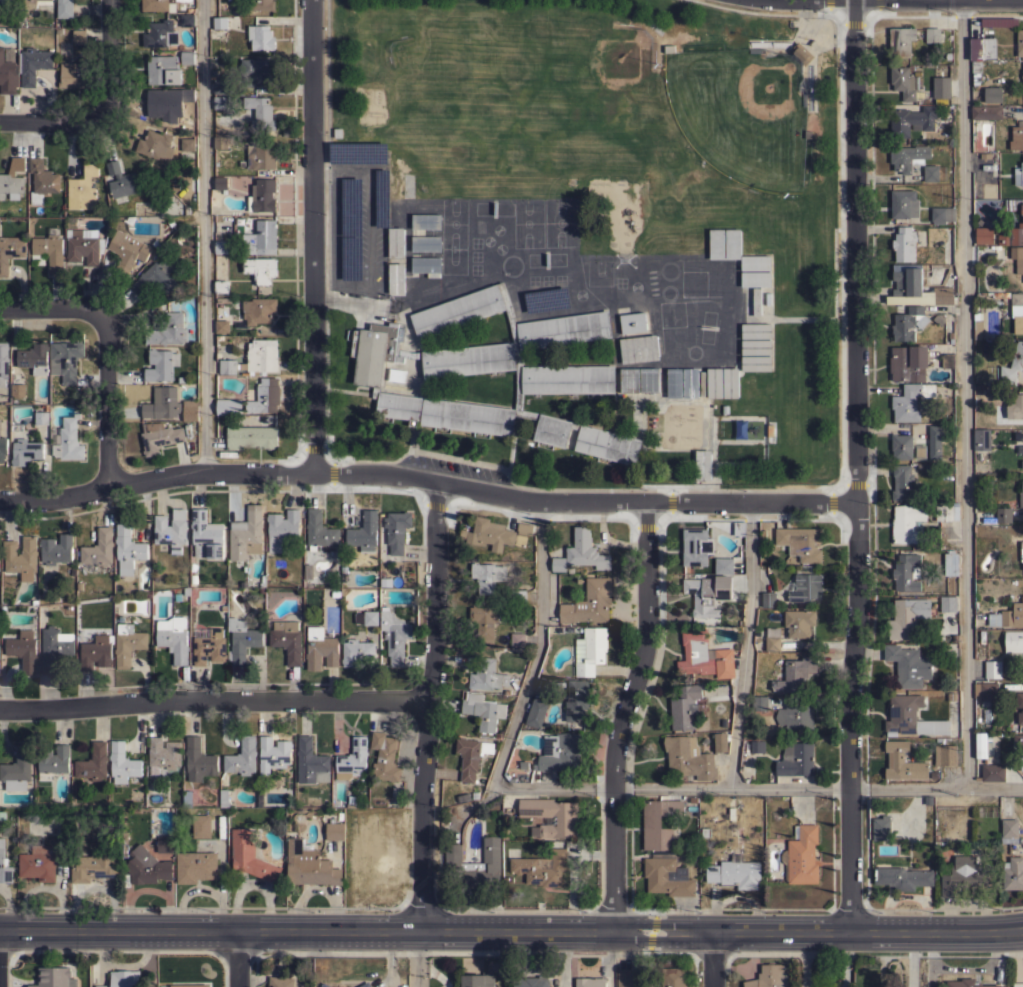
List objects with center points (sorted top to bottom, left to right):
building: (5, 3)
building: (33, 3)
road: (905, 3)
building: (159, 5)
building: (263, 5)
building: (64, 8)
building: (187, 20)
building: (220, 22)
building: (999, 22)
building: (160, 34)
building: (933, 35)
building: (79, 36)
building: (261, 37)
building: (901, 41)
building: (1020, 42)
building: (980, 52)
building: (801, 53)
building: (187, 57)
road: (106, 60)
building: (33, 64)
building: (163, 69)
building: (1022, 70)
building: (256, 71)
building: (8, 74)
building: (73, 74)
building: (1022, 76)
building: (1022, 81)
building: (904, 82)
park: (585, 86)
building: (941, 86)
building: (220, 87)
building: (187, 94)
building: (992, 94)
building: (220, 102)
building: (163, 104)
building: (260, 112)
building: (986, 112)
park: (743, 113)
building: (911, 120)
road: (49, 122)
building: (1017, 136)
building: (220, 142)
building: (187, 144)
building: (156, 145)
building: (260, 157)
building: (908, 157)
road: (339, 169)
building: (930, 173)
building: (1018, 174)
building: (12, 179)
building: (42, 180)
building: (121, 180)
building: (220, 183)
building: (83, 188)
building: (262, 195)
building: (903, 204)
building: (1021, 208)
building: (942, 214)
building: (426, 221)
road: (369, 224)
parking lot: (361, 225)
building: (983, 235)
building: (1010, 235)
road: (203, 237)
road: (313, 237)
building: (260, 238)
building: (395, 242)
building: (426, 243)
building: (716, 243)
building: (905, 243)
building: (732, 244)
building: (84, 245)
building: (221, 246)
building: (10, 251)
building: (127, 251)
building: (48, 252)
building: (1017, 257)
building: (755, 262)
building: (426, 265)
building: (260, 269)
building: (156, 277)
building: (395, 278)
building: (755, 279)
building: (221, 286)
building: (915, 288)
building: (1000, 293)
road: (351, 300)
building: (546, 301)
building: (756, 302)
building: (258, 310)
building: (1017, 311)
building: (633, 322)
building: (908, 322)
building: (977, 324)
building: (222, 326)
building: (172, 330)
building: (756, 330)
building: (756, 347)
road: (105, 348)
building: (639, 348)
building: (260, 356)
building: (34, 357)
building: (65, 359)
building: (948, 360)
building: (3, 362)
building: (756, 363)
building: (909, 363)
building: (161, 364)
building: (1012, 365)
building: (227, 366)
building: (565, 374)
building: (397, 375)
building: (629, 380)
building: (649, 380)
building: (674, 382)
building: (690, 382)
building: (714, 382)
building: (730, 382)
building: (18, 389)
road: (963, 395)
building: (264, 396)
building: (910, 401)
building: (162, 403)
building: (228, 406)
building: (1015, 406)
building: (190, 409)
building: (41, 419)
building: (739, 430)
building: (159, 436)
building: (251, 437)
building: (981, 438)
building: (66, 439)
building: (935, 441)
building: (24, 446)
building: (901, 446)
building: (3, 448)
building: (1020, 449)
building: (703, 464)
road: (856, 466)
road: (427, 482)
building: (903, 482)
building: (1021, 496)
building: (947, 511)
building: (1003, 514)
building: (908, 523)
building: (728, 526)
building: (171, 528)
building: (524, 528)
building: (282, 529)
building: (397, 530)
building: (364, 531)
building: (319, 532)
building: (246, 534)
building: (492, 534)
building: (206, 535)
building: (800, 542)
building: (696, 546)
building: (99, 548)
building: (56, 549)
building: (128, 549)
building: (1021, 550)
building: (581, 552)
building: (20, 555)
building: (951, 563)
building: (723, 565)
building: (906, 572)
building: (487, 576)
building: (804, 587)
building: (708, 593)
building: (518, 595)
building: (769, 599)
building: (589, 602)
building: (948, 603)
building: (1008, 616)
building: (367, 617)
building: (907, 617)
building: (484, 620)
building: (799, 622)
building: (394, 635)
building: (173, 638)
building: (287, 639)
building: (517, 639)
building: (241, 640)
building: (1013, 641)
building: (128, 643)
road: (745, 643)
building: (772, 643)
building: (55, 647)
building: (209, 647)
building: (321, 648)
building: (23, 650)
building: (590, 650)
building: (356, 651)
building: (96, 652)
building: (695, 653)
building: (724, 663)
building: (909, 665)
building: (993, 669)
building: (485, 673)
building: (795, 674)
building: (986, 690)
road: (212, 700)
building: (576, 700)
building: (758, 702)
building: (952, 706)
road: (425, 707)
building: (685, 707)
building: (483, 710)
building: (536, 712)
building: (1017, 713)
road: (621, 715)
building: (796, 716)
building: (911, 717)
building: (1018, 740)
building: (720, 742)
building: (980, 744)
building: (990, 745)
building: (757, 746)
building: (559, 752)
building: (163, 754)
building: (273, 754)
building: (945, 754)
building: (384, 756)
building: (471, 756)
building: (242, 757)
building: (688, 757)
building: (352, 759)
building: (795, 759)
building: (198, 760)
building: (52, 761)
building: (311, 762)
building: (903, 762)
building: (93, 763)
building: (122, 763)
building: (1021, 763)
building: (17, 768)
building: (992, 772)
road: (614, 785)
building: (187, 798)
building: (224, 798)
building: (565, 818)
building: (658, 822)
building: (201, 825)
building: (1010, 827)
building: (881, 828)
building: (335, 830)
building: (164, 844)
building: (801, 855)
building: (249, 856)
building: (42, 861)
building: (95, 864)
building: (475, 864)
building: (4, 865)
building: (309, 865)
building: (195, 866)
building: (146, 867)
building: (542, 868)
building: (735, 873)
building: (1013, 873)
building: (667, 875)
building: (963, 876)
building: (902, 877)
road: (511, 932)
road: (238, 959)
road: (417, 959)
road: (564, 959)
road: (714, 960)
road: (911, 960)
building: (673, 976)
building: (54, 977)
building: (768, 977)
building: (122, 978)
building: (624, 978)
building: (477, 980)
building: (279, 981)
building: (534, 982)
building: (590, 982)
building: (967, 983)
building: (1017, 984)
building: (189, 985)
building: (324, 985)
building: (365, 985)

